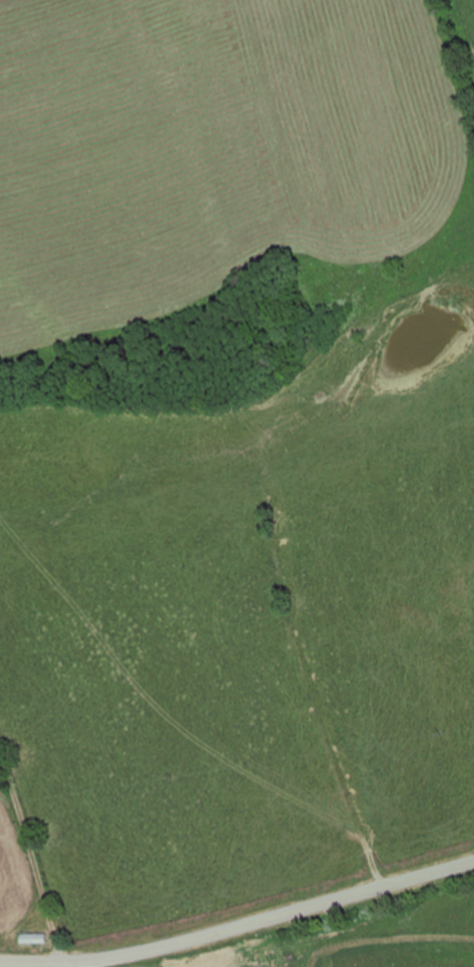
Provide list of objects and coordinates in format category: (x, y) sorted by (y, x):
road: (239, 927)
building: (31, 939)
building: (201, 962)
road: (67, 964)

